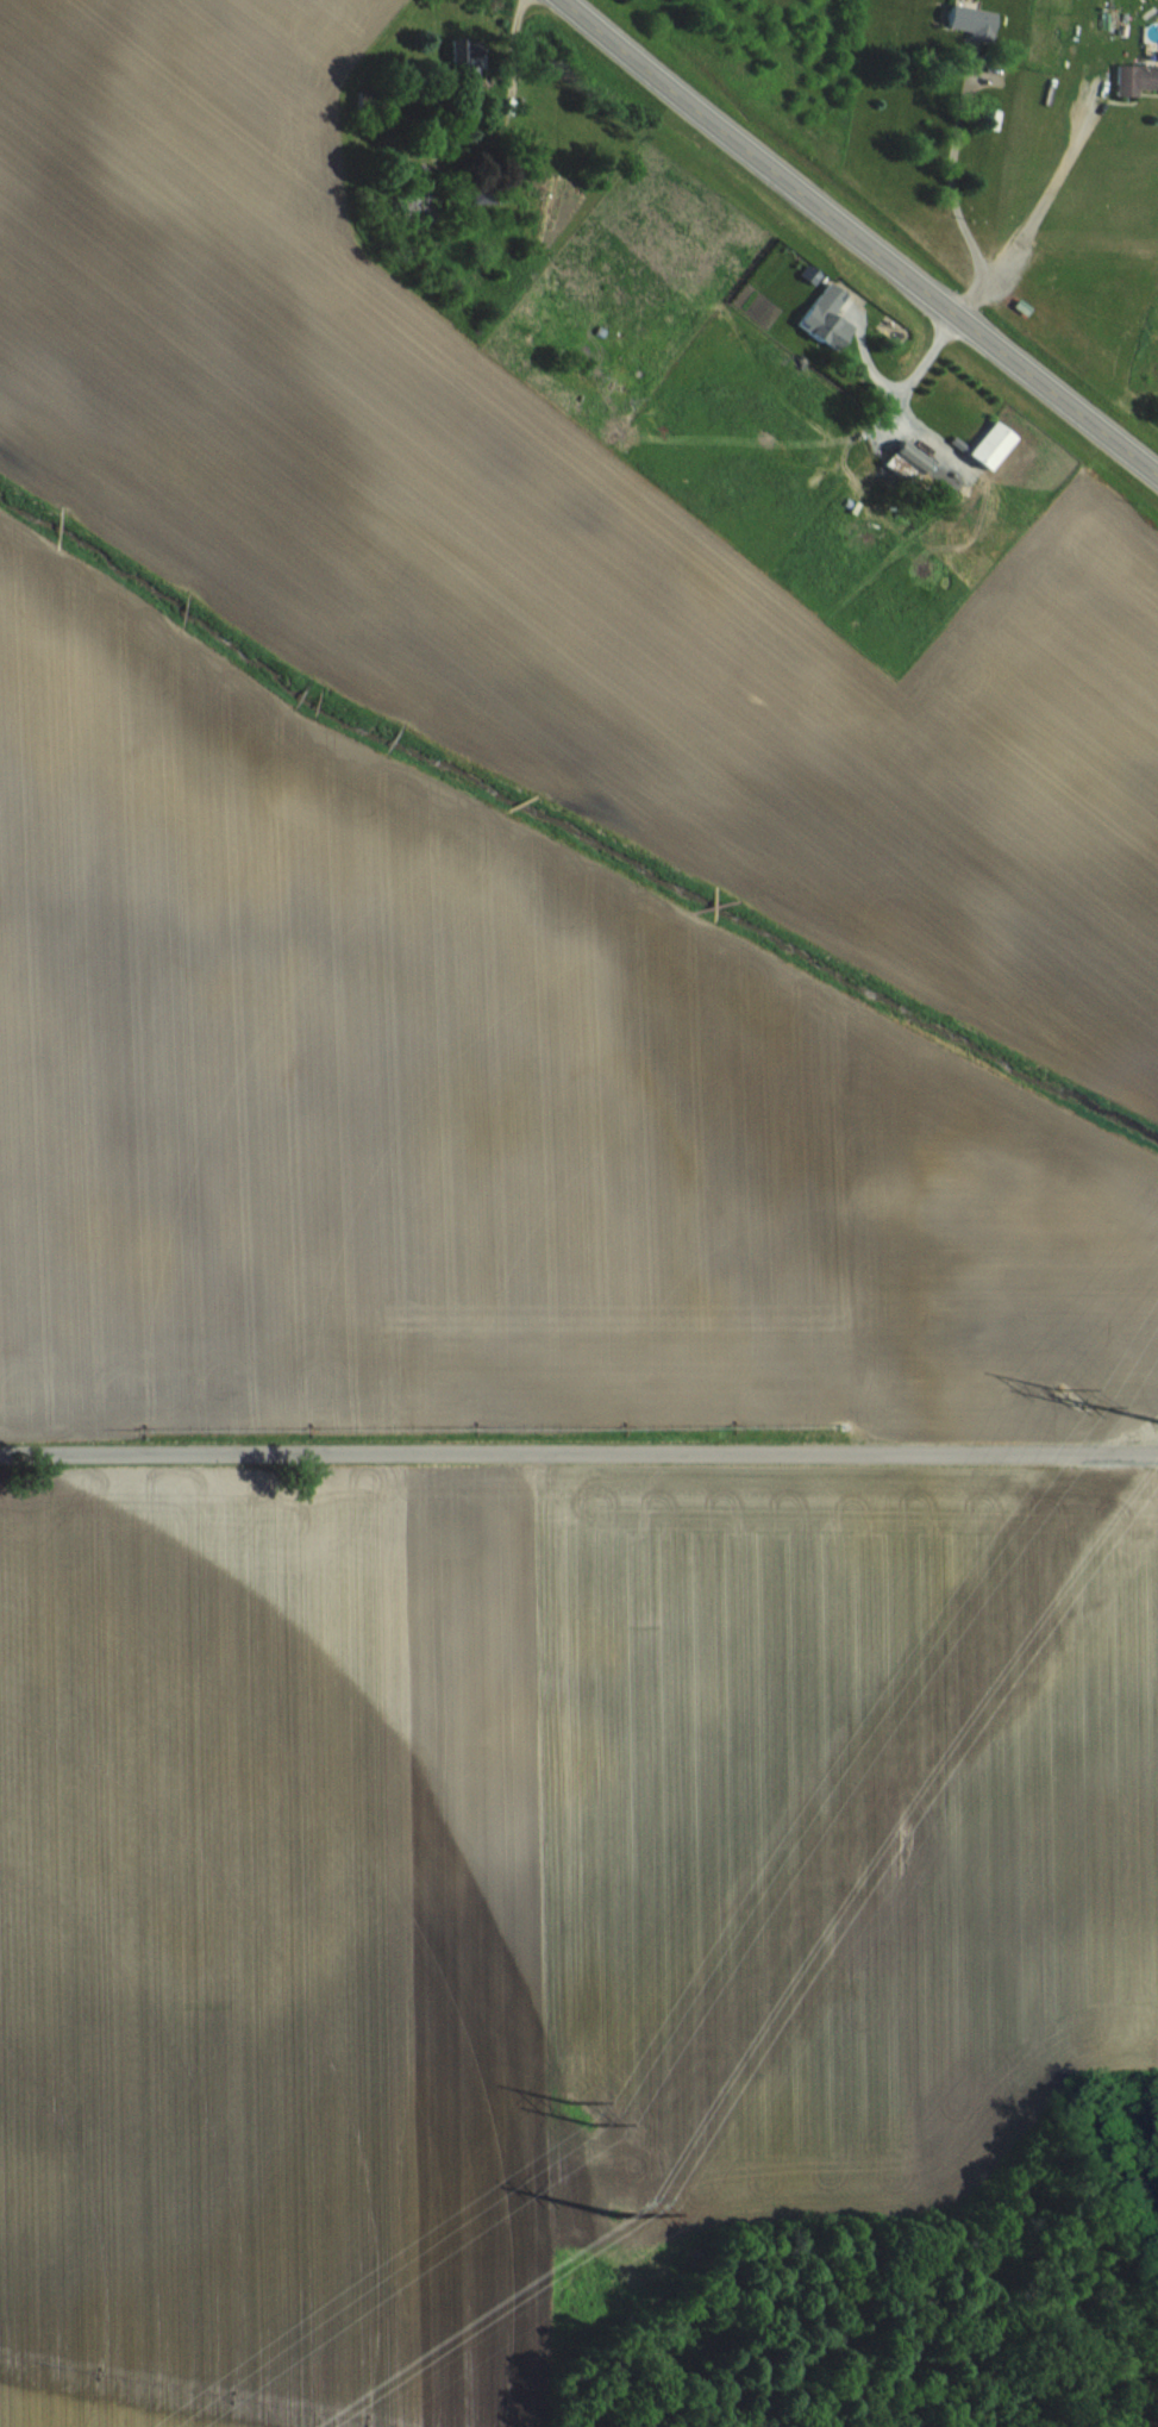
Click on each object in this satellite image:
building: (966, 21)
building: (461, 58)
building: (1133, 80)
road: (953, 174)
road: (1038, 212)
road: (859, 237)
building: (818, 318)
building: (979, 446)
building: (901, 459)
power tower: (1069, 1395)
road: (578, 1462)
power tower: (581, 2113)
power tower: (625, 2209)

